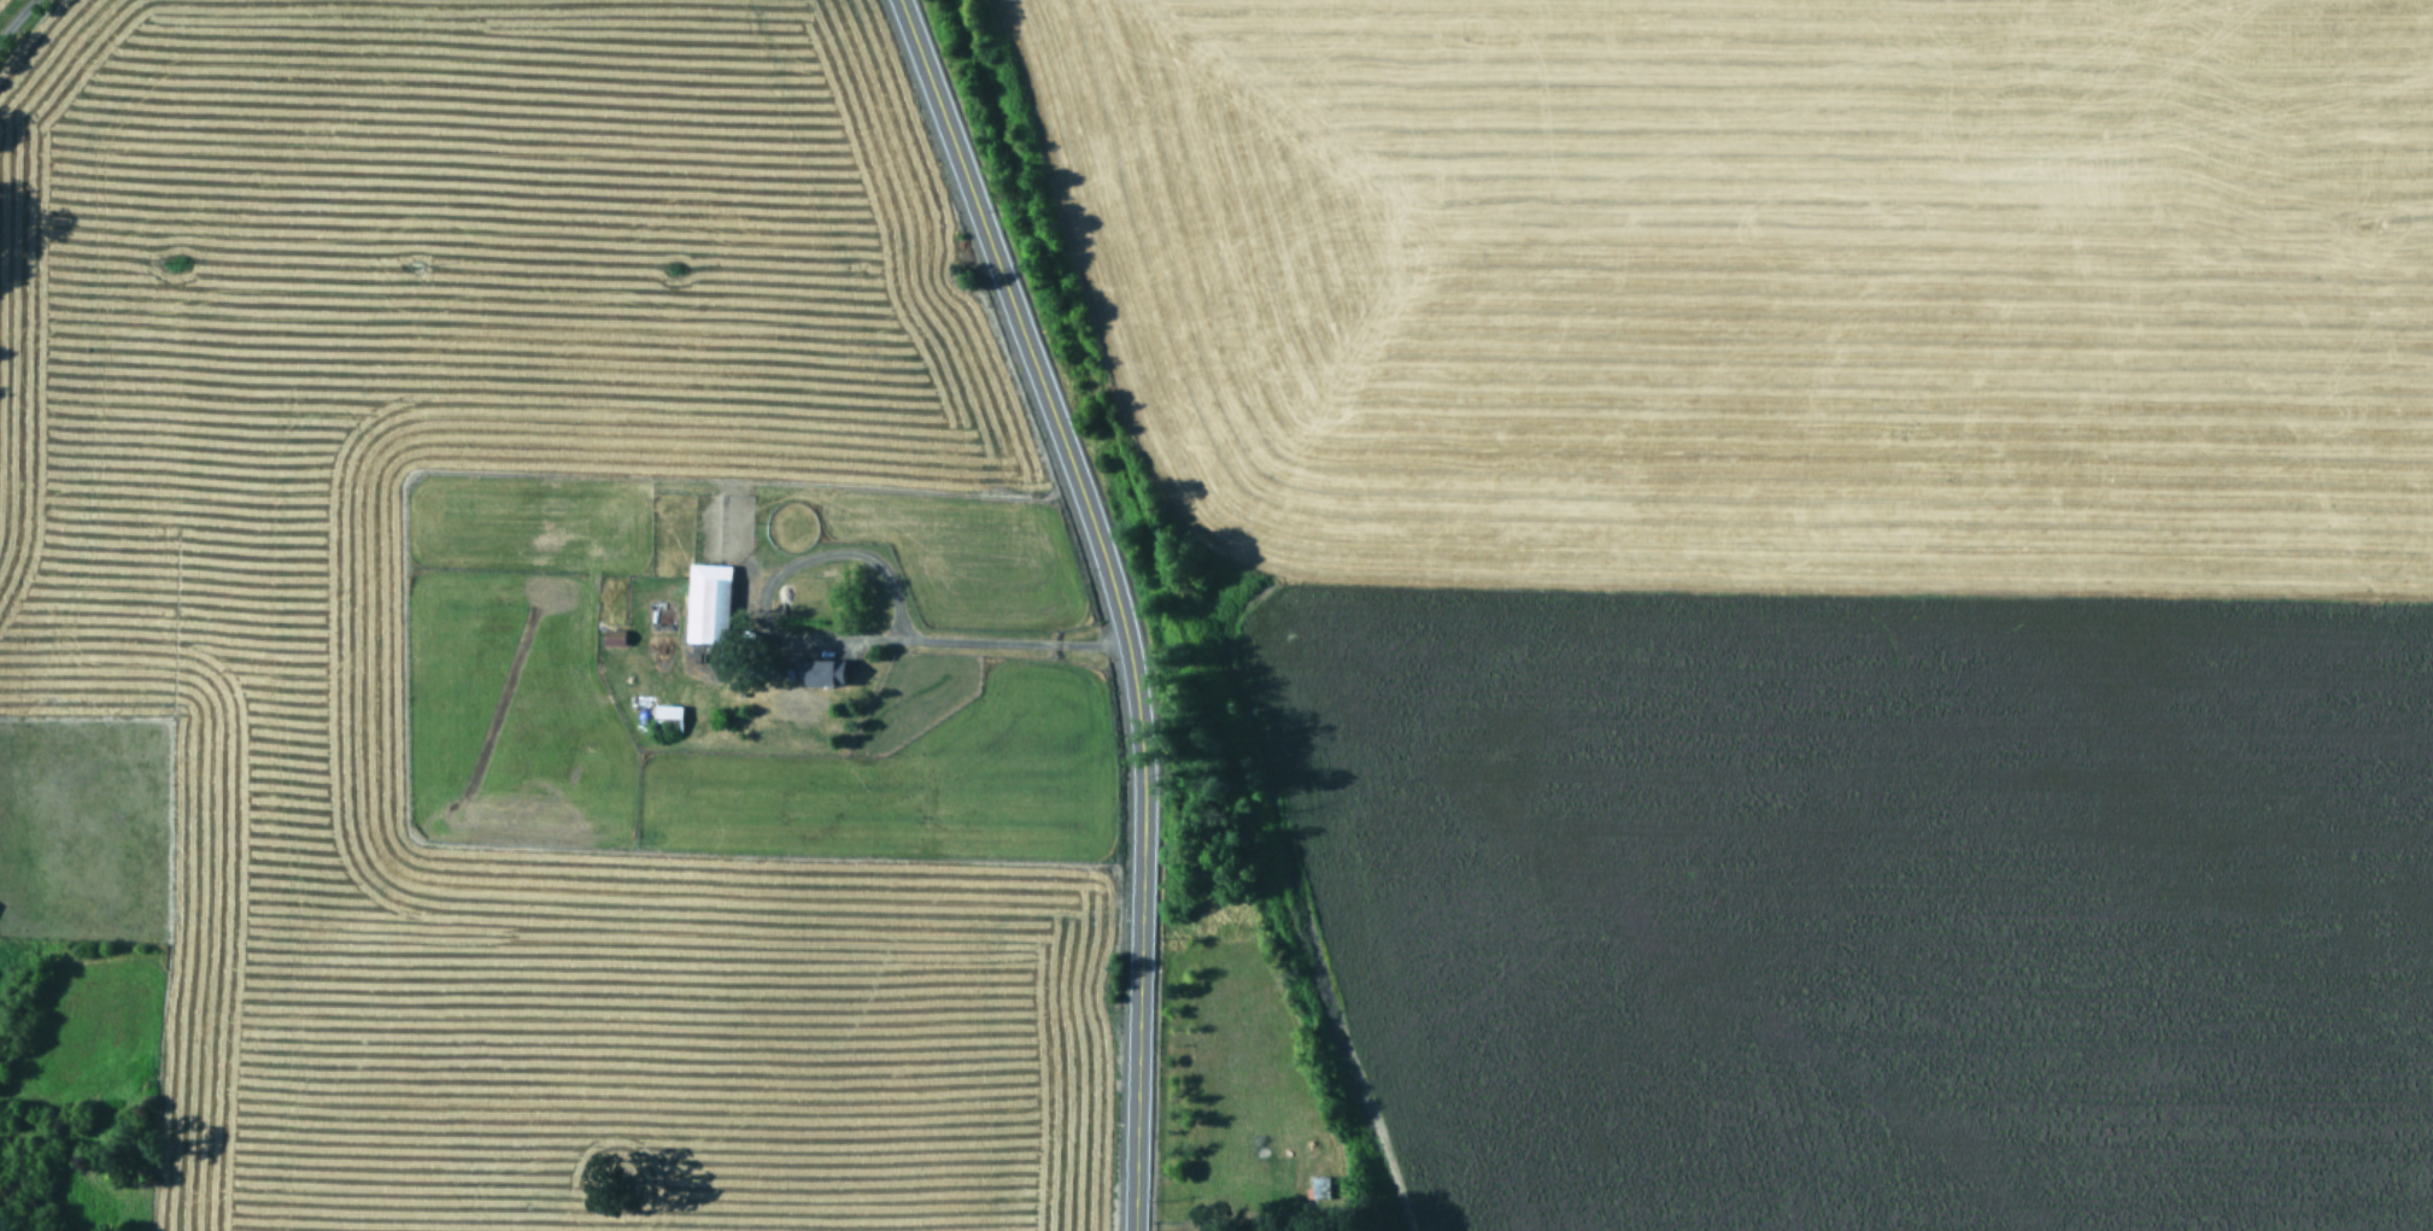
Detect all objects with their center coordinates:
road: (16, 18)
crop: (1808, 579)
road: (1113, 597)
building: (716, 610)
crop: (518, 637)
building: (614, 637)
road: (950, 641)
building: (822, 670)
building: (667, 715)
building: (1319, 1185)

